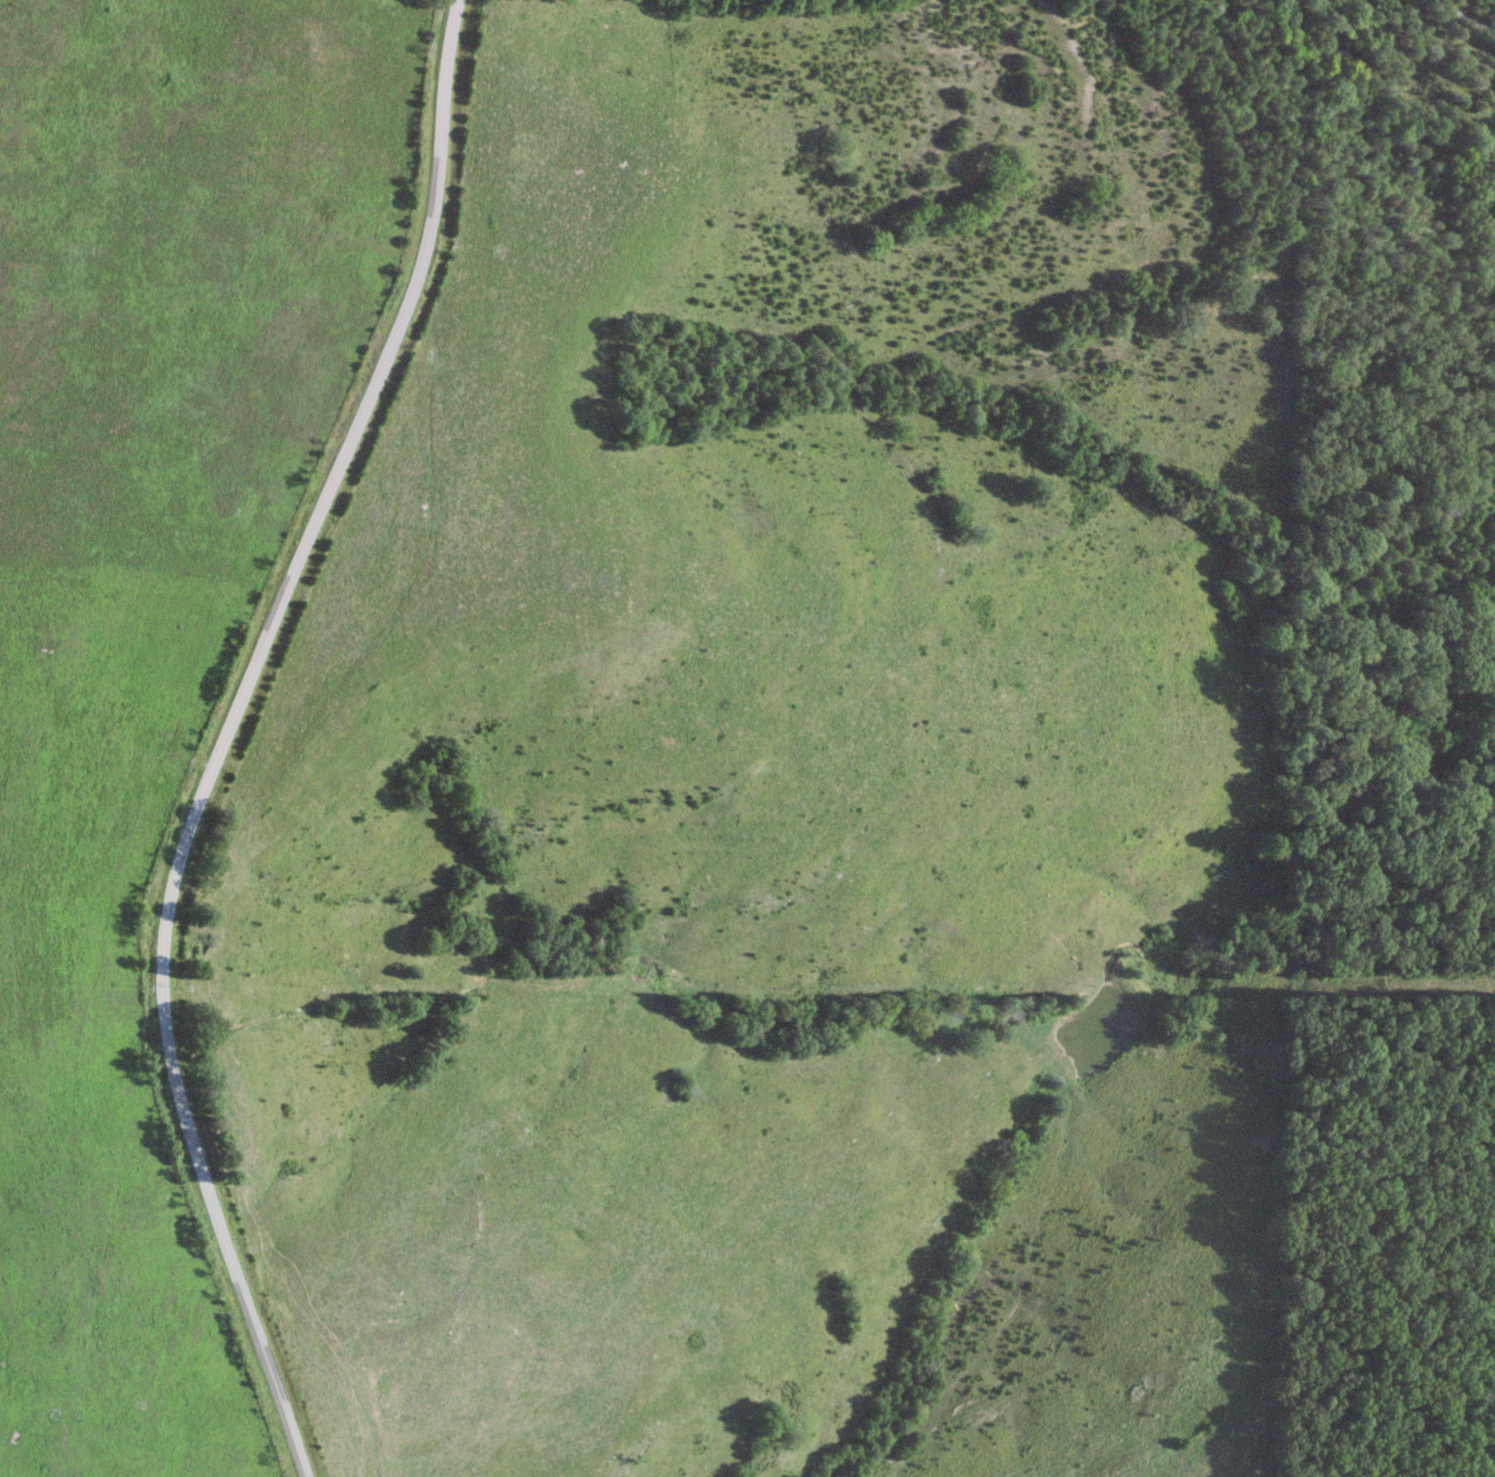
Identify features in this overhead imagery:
road: (224, 732)

